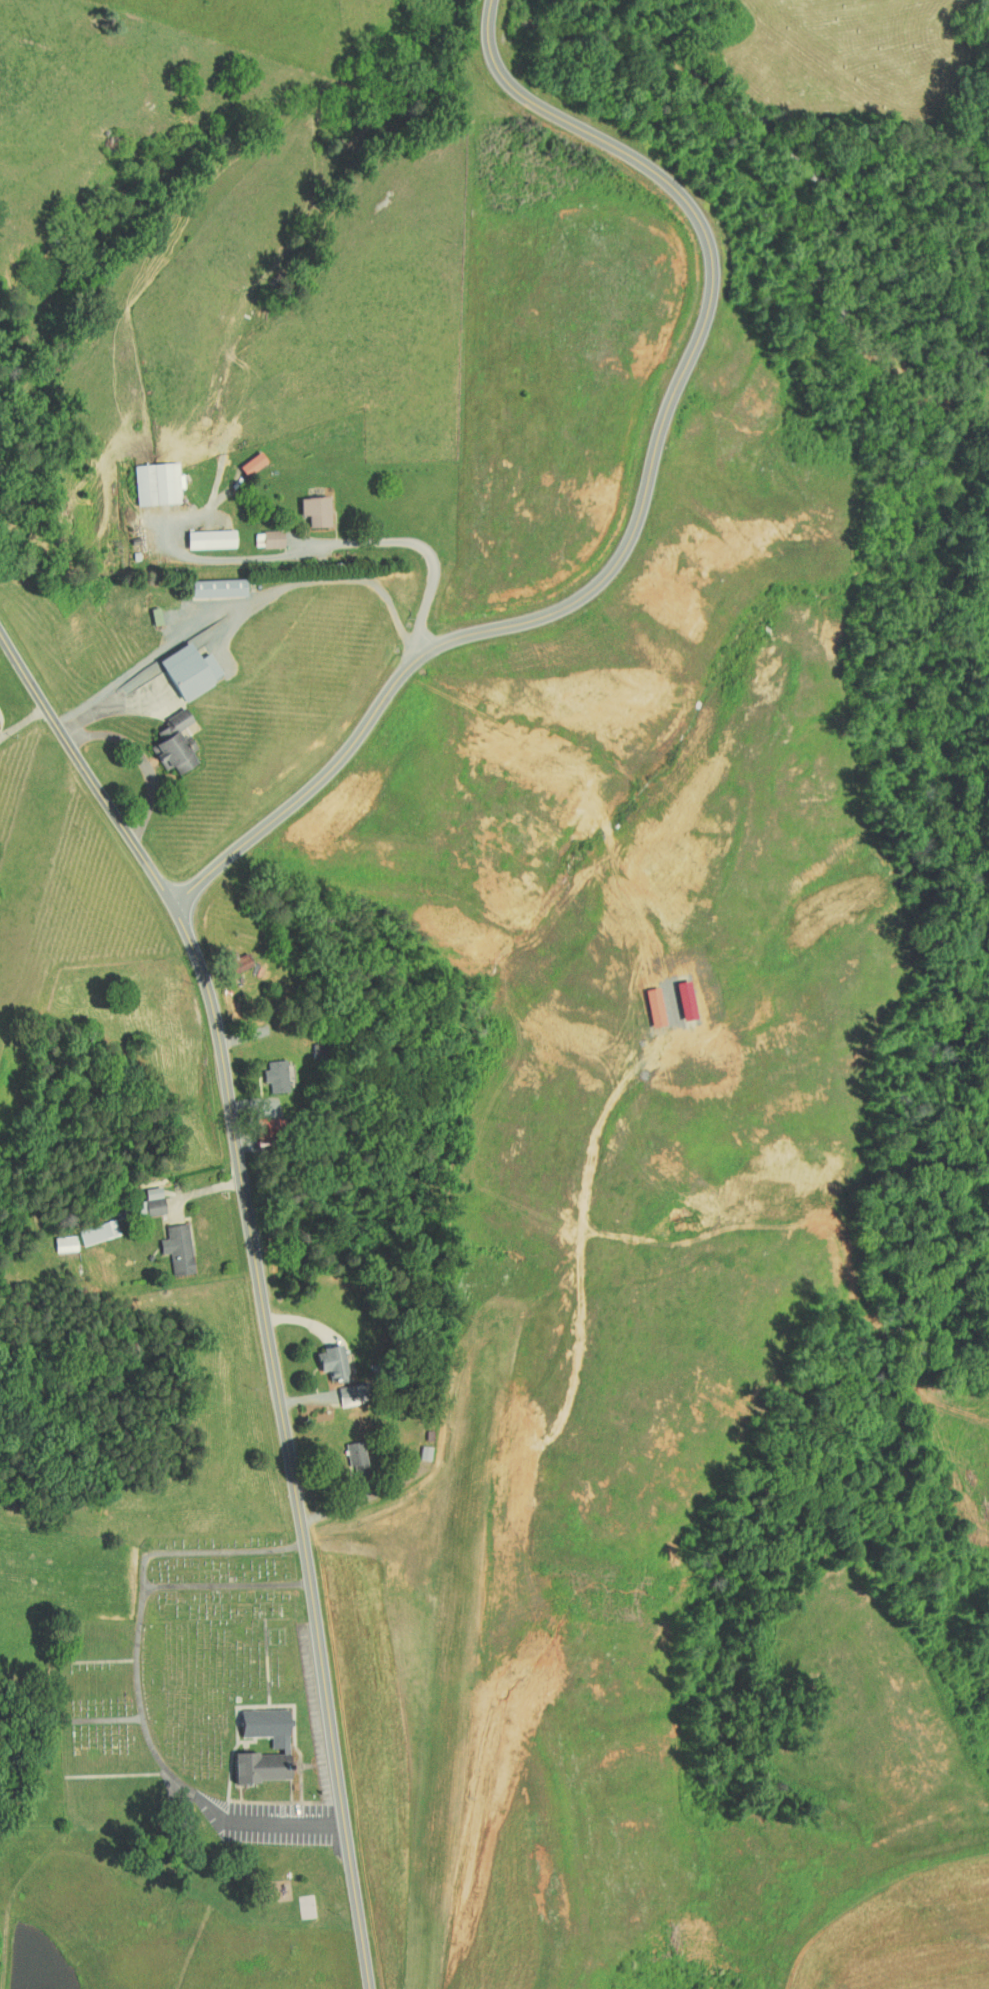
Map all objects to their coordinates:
road: (491, 49)
building: (241, 457)
building: (146, 477)
building: (304, 504)
building: (199, 533)
building: (261, 533)
road: (324, 546)
road: (621, 556)
building: (206, 582)
road: (247, 600)
building: (178, 666)
building: (164, 737)
road: (138, 759)
road: (86, 763)
building: (225, 957)
building: (674, 994)
building: (643, 1001)
building: (265, 1070)
building: (139, 1197)
building: (87, 1227)
building: (54, 1238)
building: (166, 1243)
building: (321, 1357)
building: (337, 1388)
road: (291, 1440)
building: (415, 1447)
building: (345, 1451)
road: (209, 1551)
road: (140, 1700)
building: (268, 1737)
building: (172, 1815)

